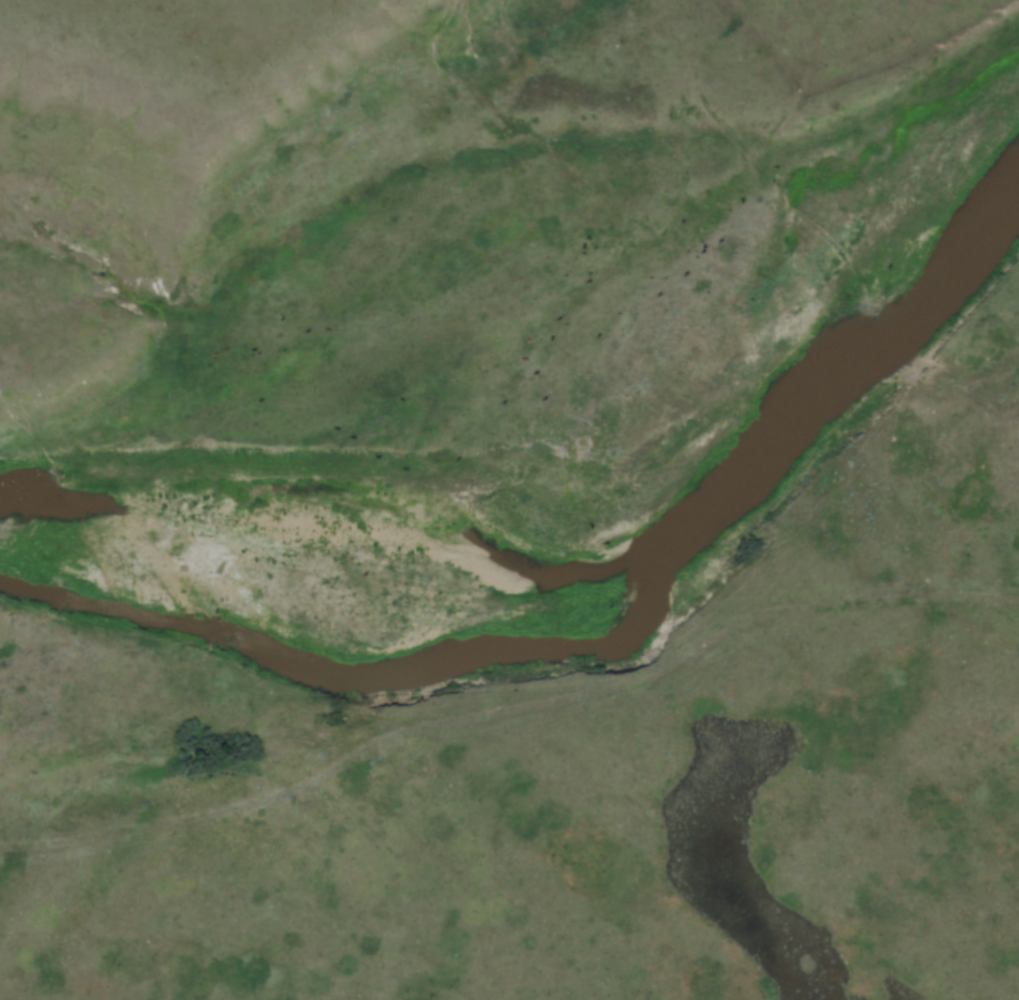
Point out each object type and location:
river: (608, 648)
road: (509, 704)

